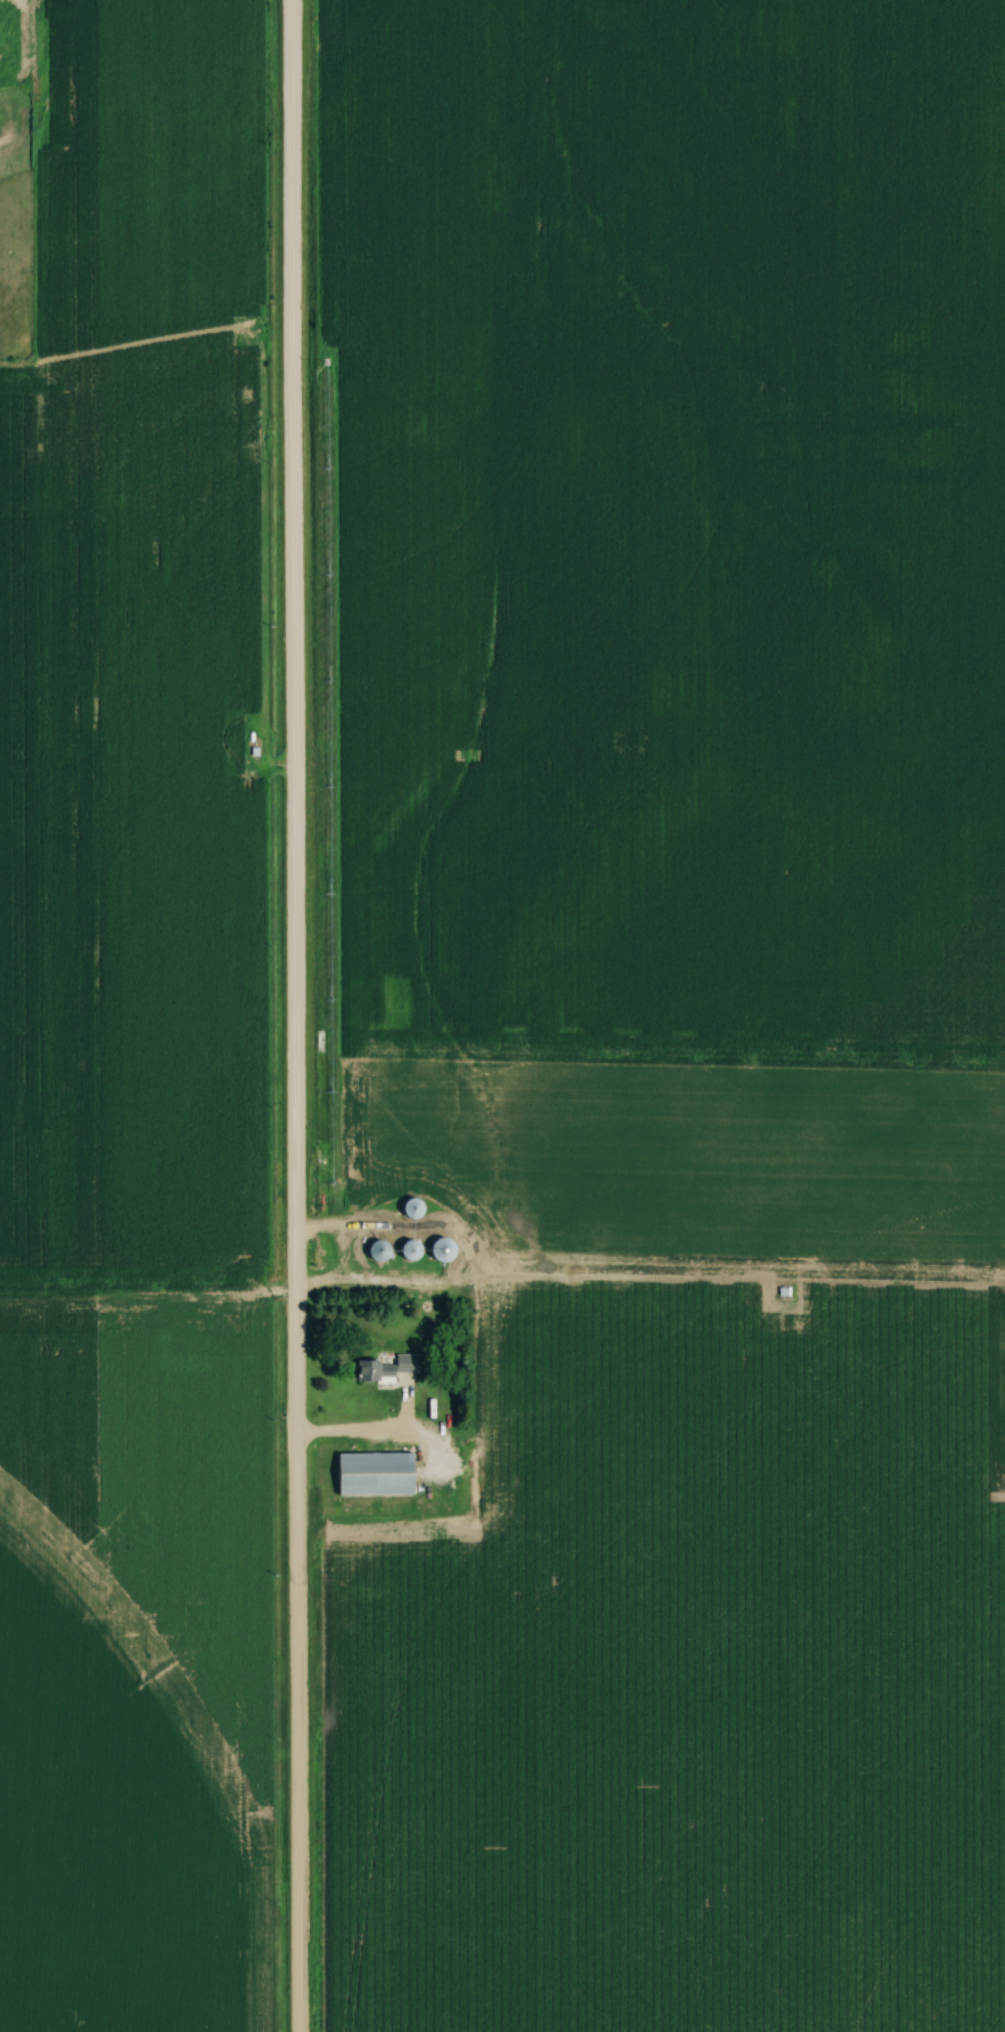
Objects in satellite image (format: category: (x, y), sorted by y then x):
road: (292, 1016)
building: (412, 1207)
building: (410, 1249)
building: (441, 1249)
building: (379, 1250)
building: (384, 1366)
building: (374, 1473)

